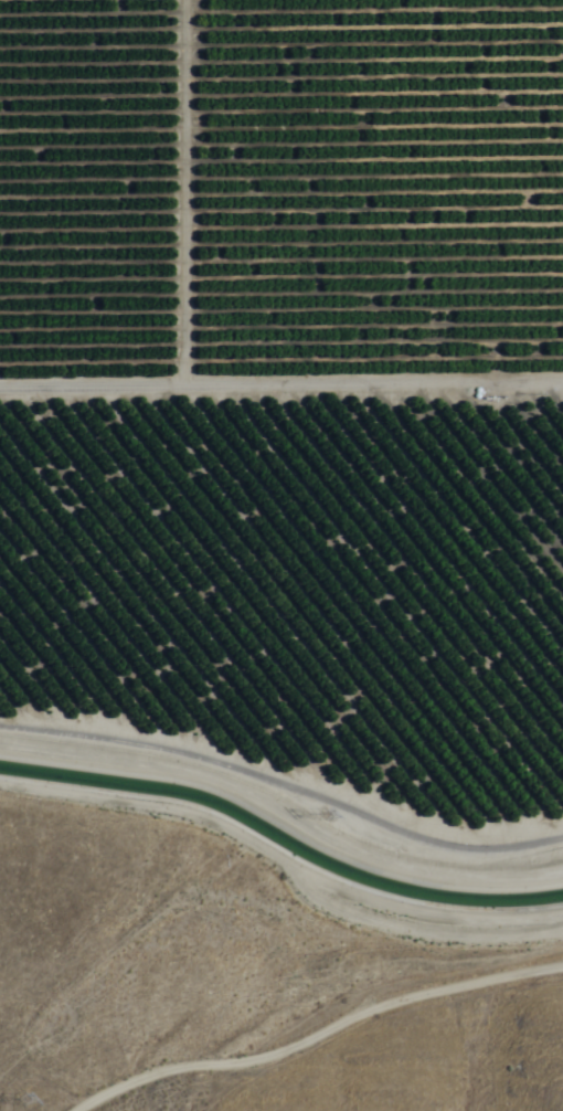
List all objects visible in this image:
crop: (289, 383)
power tower: (326, 816)
road: (289, 997)
road: (189, 1062)
power tower: (33, 1097)

